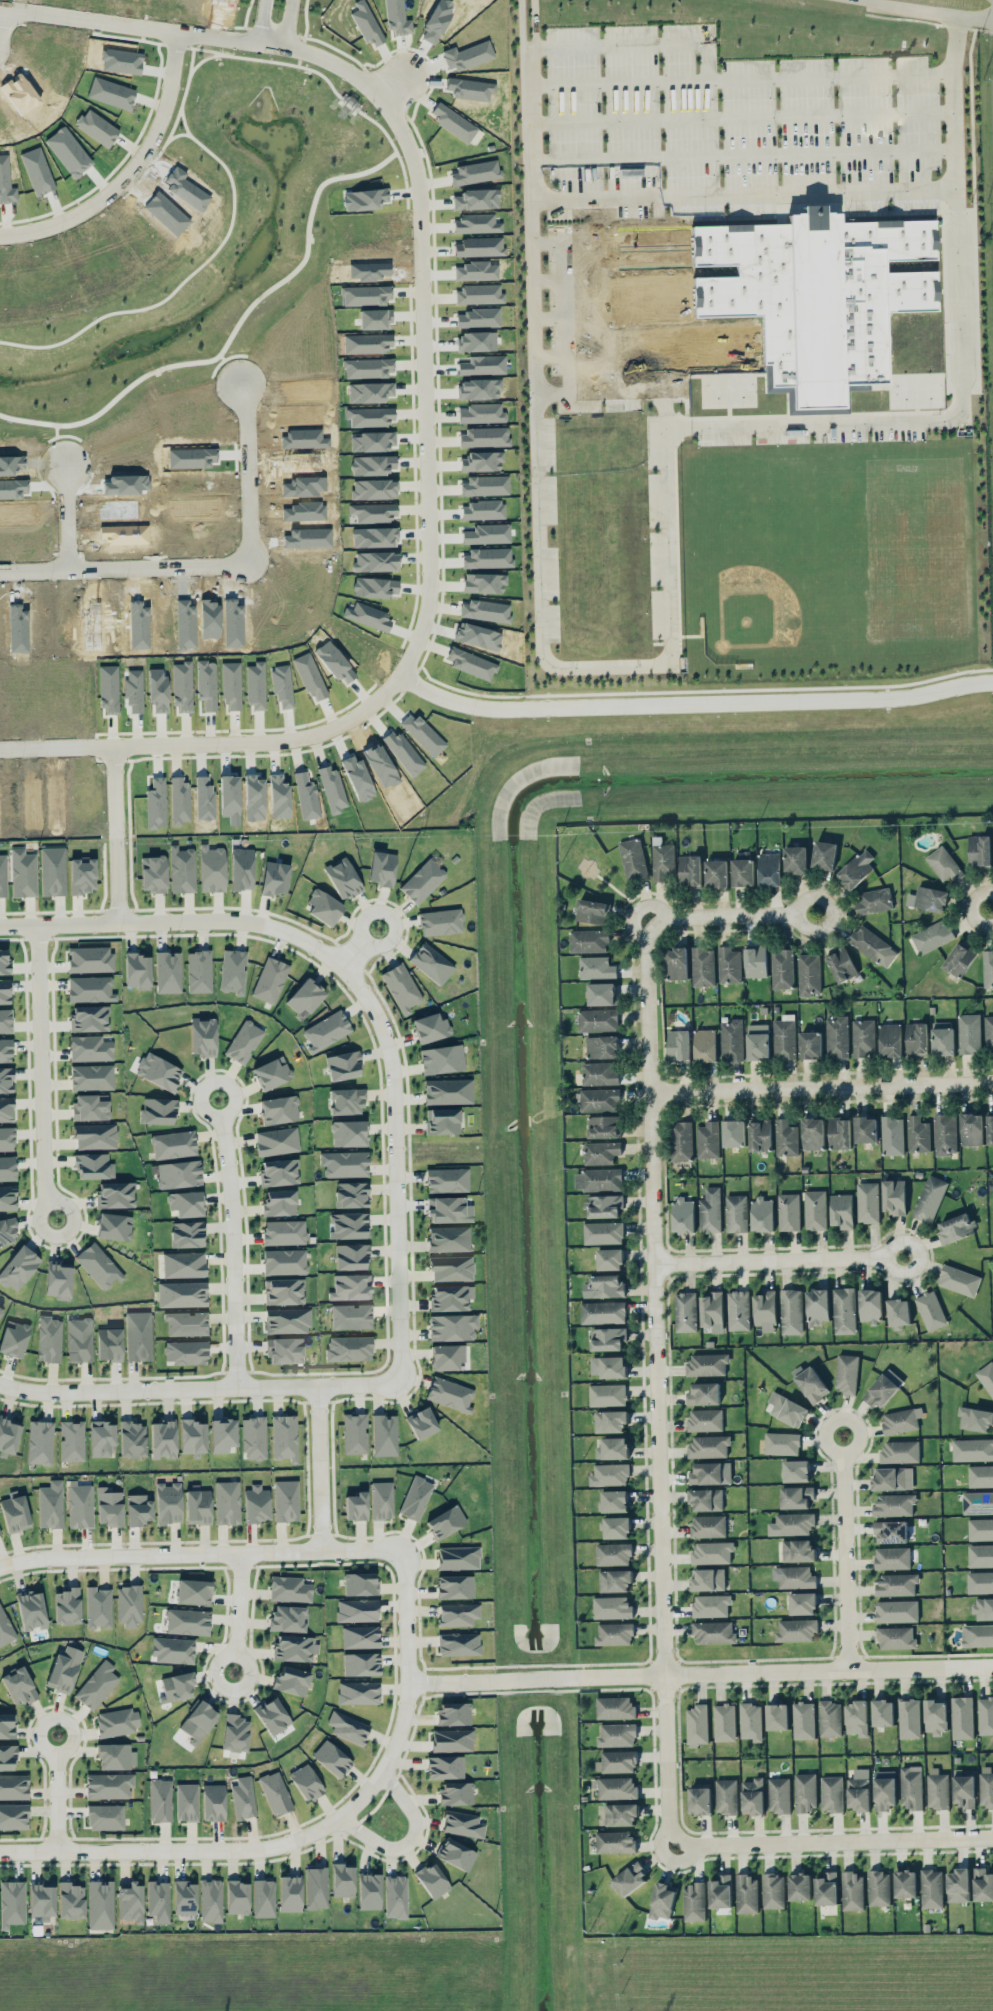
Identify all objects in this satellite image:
road: (901, 7)
building: (396, 17)
road: (972, 18)
road: (261, 23)
building: (366, 24)
road: (287, 25)
road: (638, 45)
building: (466, 55)
road: (522, 57)
road: (734, 82)
road: (391, 88)
road: (735, 120)
building: (452, 121)
building: (96, 127)
road: (130, 169)
building: (475, 172)
road: (737, 196)
building: (363, 199)
building: (475, 223)
road: (613, 242)
building: (478, 246)
road: (592, 282)
building: (366, 294)
building: (479, 294)
building: (815, 295)
road: (593, 319)
road: (661, 337)
road: (422, 340)
building: (367, 343)
building: (368, 367)
building: (370, 392)
road: (605, 394)
building: (844, 401)
building: (481, 413)
building: (370, 416)
building: (483, 437)
building: (481, 461)
building: (371, 464)
building: (484, 485)
building: (373, 489)
building: (481, 510)
building: (373, 512)
road: (69, 513)
building: (486, 534)
building: (373, 537)
building: (487, 558)
road: (663, 560)
road: (215, 561)
building: (374, 561)
building: (483, 582)
building: (374, 587)
building: (484, 610)
building: (368, 616)
building: (471, 663)
building: (310, 676)
building: (206, 684)
building: (255, 685)
building: (181, 686)
building: (231, 686)
building: (108, 688)
road: (693, 703)
building: (422, 733)
road: (57, 738)
building: (332, 789)
building: (179, 800)
road: (116, 835)
building: (979, 850)
building: (824, 854)
building: (632, 858)
building: (662, 859)
building: (795, 859)
building: (944, 863)
building: (241, 868)
building: (381, 868)
building: (769, 868)
building: (856, 868)
building: (181, 869)
building: (211, 869)
building: (690, 870)
building: (52, 871)
building: (716, 872)
building: (742, 872)
building: (22, 873)
building: (152, 873)
building: (2, 875)
building: (82, 875)
building: (274, 878)
building: (342, 878)
building: (422, 881)
building: (930, 898)
building: (873, 900)
building: (323, 907)
road: (970, 908)
building: (592, 910)
road: (721, 911)
road: (177, 921)
building: (440, 922)
road: (808, 930)
building: (932, 935)
building: (589, 940)
building: (873, 945)
road: (362, 947)
building: (959, 958)
building: (90, 959)
building: (755, 961)
building: (676, 962)
building: (4, 963)
building: (431, 963)
building: (729, 964)
building: (841, 964)
building: (703, 966)
building: (596, 967)
building: (987, 967)
building: (782, 968)
building: (137, 971)
building: (199, 971)
building: (232, 971)
building: (168, 972)
building: (809, 973)
building: (269, 980)
building: (401, 988)
building: (90, 989)
building: (4, 991)
building: (601, 993)
building: (304, 997)
building: (598, 1019)
building: (5, 1020)
building: (430, 1028)
building: (326, 1030)
building: (969, 1033)
building: (988, 1033)
building: (202, 1036)
building: (837, 1036)
building: (863, 1036)
building: (942, 1037)
building: (784, 1038)
building: (916, 1038)
building: (731, 1039)
building: (890, 1039)
building: (758, 1041)
building: (243, 1042)
building: (705, 1044)
building: (810, 1044)
building: (679, 1045)
building: (602, 1046)
building: (90, 1048)
building: (441, 1059)
building: (343, 1065)
building: (158, 1071)
building: (271, 1073)
building: (599, 1073)
road: (43, 1074)
building: (91, 1077)
building: (6, 1079)
road: (821, 1083)
building: (447, 1091)
building: (599, 1099)
building: (346, 1101)
building: (90, 1107)
building: (278, 1109)
building: (157, 1110)
building: (441, 1121)
building: (604, 1126)
building: (971, 1128)
building: (990, 1128)
building: (865, 1129)
building: (733, 1132)
building: (839, 1132)
building: (348, 1133)
building: (812, 1133)
building: (918, 1133)
building: (945, 1133)
building: (759, 1135)
building: (892, 1135)
building: (95, 1136)
building: (785, 1137)
building: (6, 1138)
building: (708, 1139)
building: (681, 1140)
building: (276, 1141)
building: (173, 1144)
building: (600, 1152)
building: (345, 1164)
building: (93, 1166)
road: (397, 1168)
building: (278, 1172)
building: (178, 1174)
building: (598, 1179)
building: (446, 1180)
building: (115, 1194)
building: (351, 1194)
building: (893, 1196)
building: (7, 1197)
building: (930, 1197)
building: (867, 1201)
building: (278, 1202)
building: (185, 1203)
building: (603, 1205)
building: (445, 1209)
building: (710, 1209)
building: (815, 1209)
building: (841, 1209)
building: (788, 1211)
building: (736, 1212)
building: (762, 1213)
building: (683, 1215)
building: (349, 1225)
building: (113, 1226)
building: (956, 1227)
building: (7, 1231)
building: (283, 1232)
building: (603, 1232)
building: (186, 1234)
building: (448, 1238)
road: (235, 1243)
building: (351, 1256)
building: (610, 1258)
road: (779, 1259)
building: (284, 1261)
building: (183, 1264)
building: (98, 1266)
building: (18, 1268)
building: (451, 1268)
building: (959, 1279)
building: (58, 1280)
building: (606, 1285)
building: (350, 1287)
building: (283, 1291)
building: (181, 1294)
building: (449, 1297)
building: (818, 1305)
building: (870, 1305)
building: (738, 1309)
building: (765, 1309)
building: (0, 1310)
building: (712, 1310)
building: (843, 1310)
building: (930, 1310)
building: (602, 1311)
building: (685, 1311)
building: (791, 1311)
building: (898, 1312)
building: (351, 1316)
building: (287, 1320)
building: (186, 1323)
building: (452, 1327)
building: (138, 1336)
building: (13, 1338)
building: (607, 1338)
building: (48, 1339)
building: (79, 1339)
building: (108, 1344)
building: (348, 1348)
building: (284, 1350)
building: (185, 1352)
building: (446, 1356)
building: (707, 1363)
building: (612, 1366)
building: (846, 1372)
building: (986, 1376)
building: (811, 1384)
building: (883, 1388)
road: (200, 1390)
building: (703, 1393)
building: (450, 1394)
building: (607, 1394)
building: (787, 1408)
building: (975, 1418)
building: (705, 1419)
building: (901, 1419)
building: (610, 1420)
building: (421, 1423)
building: (354, 1433)
building: (222, 1434)
building: (384, 1435)
building: (8, 1436)
building: (192, 1437)
building: (284, 1437)
building: (101, 1438)
building: (162, 1438)
building: (253, 1438)
building: (132, 1439)
building: (71, 1441)
building: (40, 1442)
building: (782, 1442)
building: (709, 1446)
building: (613, 1448)
building: (972, 1449)
building: (900, 1451)
road: (322, 1469)
building: (796, 1470)
building: (706, 1473)
building: (609, 1474)
building: (980, 1475)
building: (892, 1477)
building: (796, 1496)
building: (415, 1498)
building: (706, 1499)
building: (285, 1500)
building: (381, 1500)
building: (614, 1500)
building: (226, 1502)
building: (977, 1502)
building: (168, 1503)
building: (50, 1504)
building: (256, 1504)
building: (894, 1504)
building: (79, 1505)
building: (197, 1506)
building: (355, 1506)
building: (109, 1507)
building: (137, 1509)
building: (14, 1513)
building: (446, 1522)
building: (791, 1523)
building: (708, 1525)
building: (616, 1526)
building: (980, 1528)
building: (890, 1531)
building: (0, 1533)
road: (661, 1538)
building: (798, 1550)
road: (843, 1551)
building: (712, 1552)
building: (613, 1553)
road: (202, 1554)
building: (980, 1555)
building: (458, 1557)
building: (892, 1557)
building: (794, 1576)
building: (707, 1579)
building: (614, 1580)
building: (980, 1581)
building: (360, 1583)
building: (896, 1583)
building: (454, 1586)
building: (289, 1589)
building: (193, 1591)
building: (802, 1602)
building: (128, 1605)
building: (711, 1605)
building: (67, 1606)
building: (98, 1607)
building: (612, 1607)
building: (983, 1607)
building: (31, 1610)
building: (357, 1610)
building: (897, 1610)
road: (241, 1613)
building: (458, 1614)
building: (288, 1618)
building: (187, 1621)
building: (5, 1628)
building: (796, 1629)
building: (713, 1631)
building: (614, 1633)
building: (977, 1634)
building: (360, 1636)
building: (896, 1637)
building: (458, 1643)
building: (293, 1648)
building: (173, 1649)
building: (361, 1664)
building: (63, 1669)
road: (701, 1671)
road: (409, 1679)
building: (291, 1681)
building: (18, 1685)
building: (97, 1685)
building: (176, 1687)
building: (358, 1692)
building: (615, 1707)
building: (882, 1711)
building: (453, 1713)
building: (985, 1715)
building: (272, 1716)
building: (777, 1716)
building: (935, 1716)
building: (856, 1717)
building: (909, 1717)
building: (962, 1717)
building: (829, 1718)
building: (751, 1720)
building: (803, 1720)
building: (198, 1721)
building: (724, 1721)
building: (117, 1722)
building: (697, 1724)
building: (7, 1725)
building: (348, 1728)
building: (235, 1733)
building: (616, 1734)
road: (40, 1736)
building: (451, 1740)
building: (115, 1756)
building: (7, 1757)
building: (331, 1759)
building: (617, 1761)
building: (444, 1766)
building: (305, 1782)
building: (108, 1785)
building: (13, 1786)
building: (910, 1786)
building: (986, 1786)
building: (617, 1787)
building: (937, 1788)
building: (884, 1789)
building: (963, 1789)
building: (805, 1791)
building: (275, 1792)
building: (455, 1793)
building: (832, 1793)
building: (858, 1793)
building: (779, 1794)
building: (726, 1795)
building: (753, 1795)
building: (243, 1797)
building: (159, 1799)
building: (700, 1800)
road: (58, 1801)
building: (186, 1802)
building: (213, 1802)
building: (621, 1813)
building: (13, 1816)
building: (105, 1816)
building: (462, 1824)
road: (411, 1841)
building: (615, 1841)
road: (189, 1851)
building: (456, 1854)
building: (342, 1879)
building: (629, 1879)
building: (432, 1880)
building: (905, 1883)
building: (983, 1883)
building: (958, 1884)
building: (799, 1885)
building: (316, 1887)
building: (878, 1887)
building: (931, 1887)
building: (826, 1888)
building: (720, 1890)
building: (773, 1890)
building: (852, 1890)
building: (369, 1891)
building: (289, 1893)
building: (747, 1893)
building: (395, 1896)
building: (236, 1897)
building: (184, 1898)
building: (263, 1898)
building: (210, 1900)
building: (661, 1900)
building: (70, 1901)
building: (158, 1901)
building: (694, 1901)
building: (41, 1902)
building: (130, 1902)
building: (12, 1903)
building: (100, 1904)

